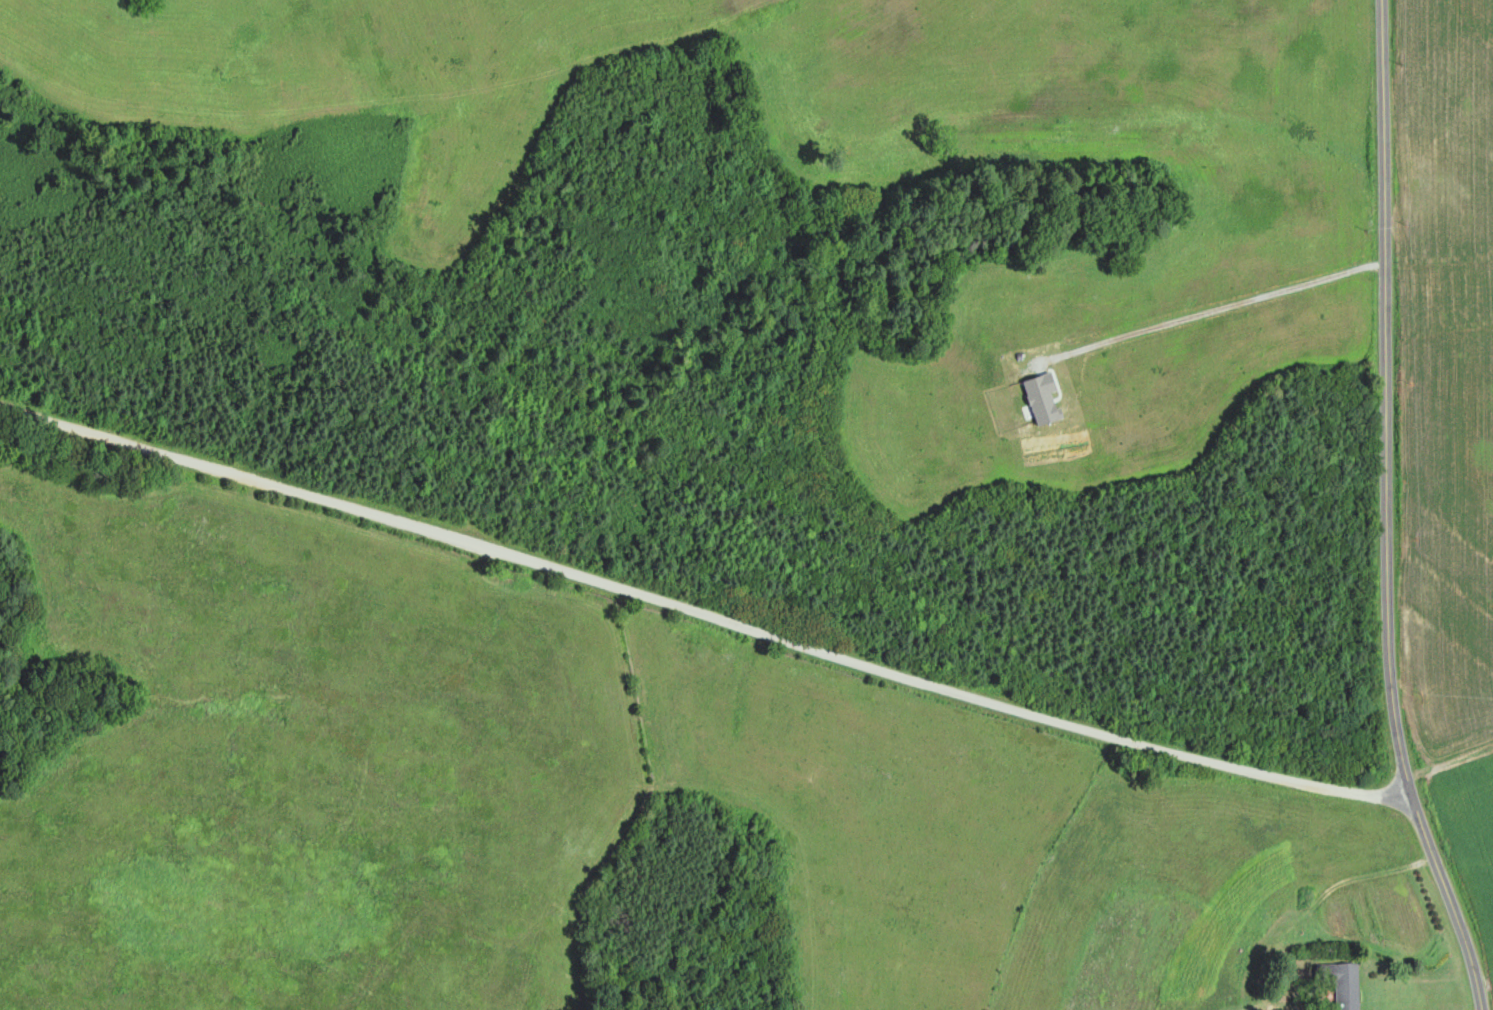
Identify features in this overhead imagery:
road: (1387, 512)
road: (702, 617)
building: (1339, 983)

